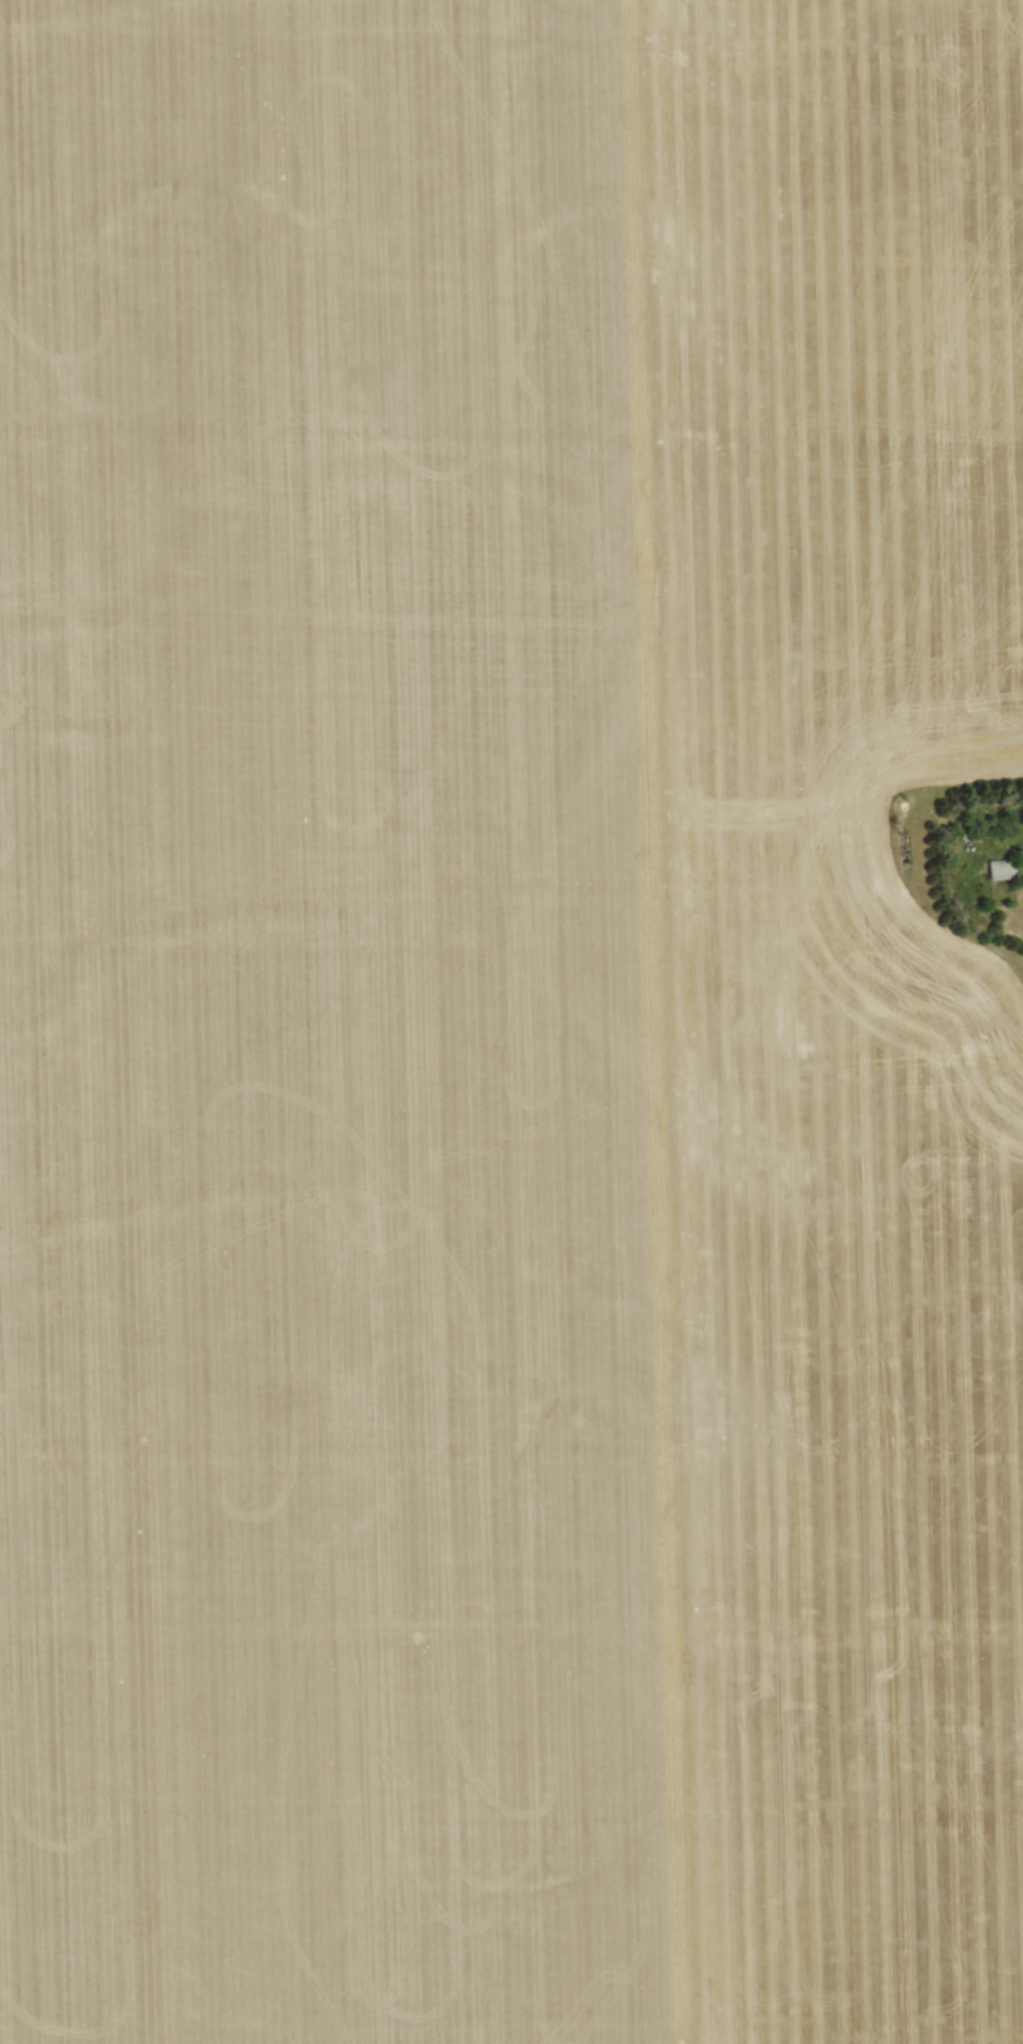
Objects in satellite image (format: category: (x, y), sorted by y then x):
building: (999, 866)
crop: (507, 1023)

